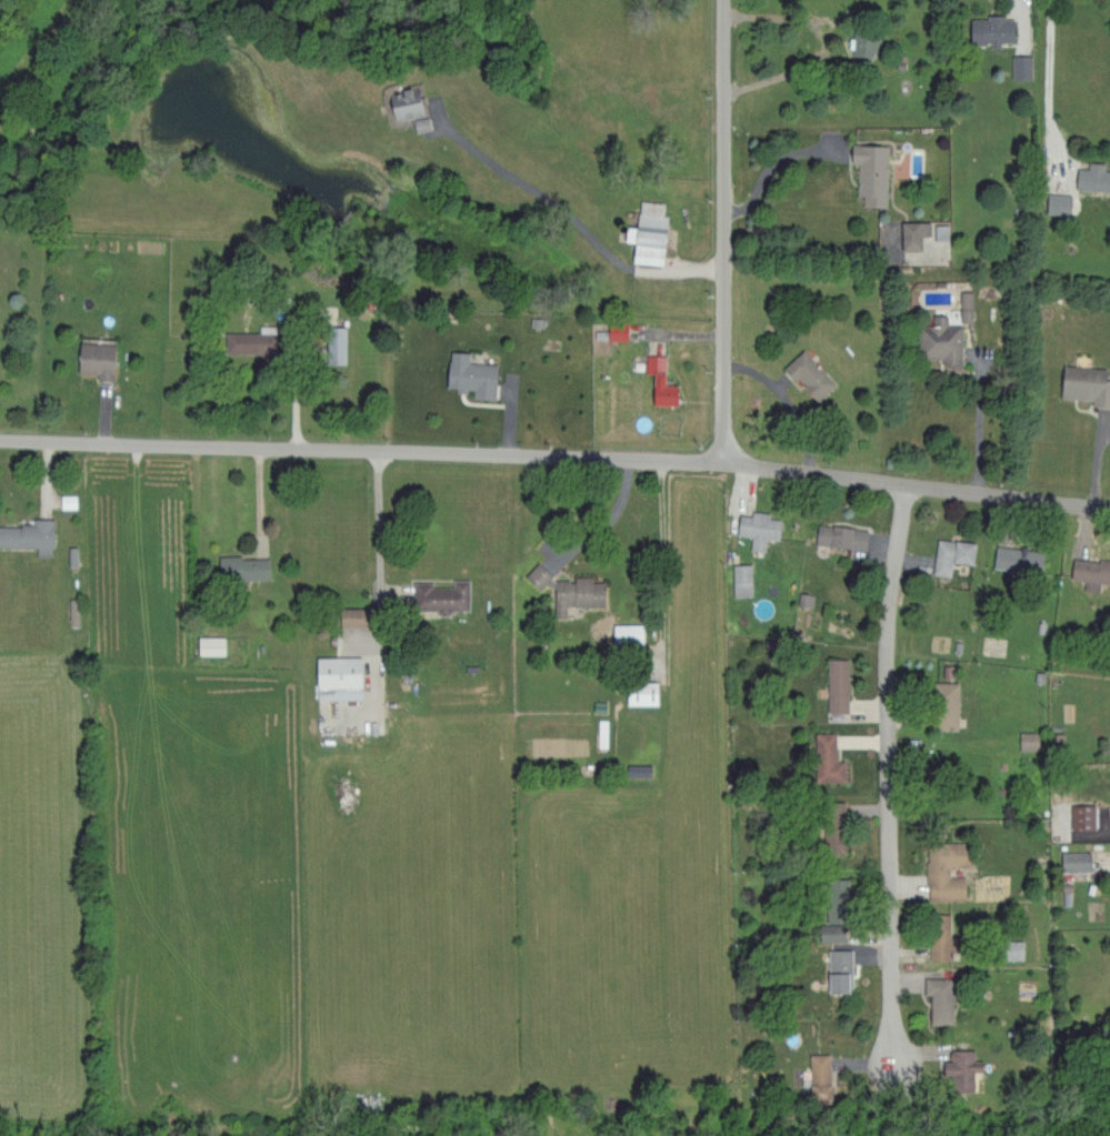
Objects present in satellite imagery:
building: (987, 29)
road: (823, 42)
building: (860, 46)
building: (1019, 66)
road: (1057, 91)
building: (404, 104)
road: (772, 159)
building: (868, 171)
building: (1091, 177)
building: (1056, 202)
road: (572, 219)
road: (721, 231)
building: (644, 232)
building: (910, 233)
building: (613, 330)
building: (242, 342)
building: (938, 342)
building: (331, 343)
building: (92, 359)
building: (804, 373)
building: (468, 374)
building: (657, 381)
building: (1083, 384)
road: (302, 396)
road: (981, 425)
road: (360, 450)
road: (1098, 464)
road: (914, 486)
building: (63, 500)
road: (263, 520)
road: (609, 523)
building: (751, 527)
building: (27, 535)
building: (838, 535)
road: (200, 540)
road: (387, 549)
building: (949, 554)
building: (1014, 559)
building: (239, 566)
road: (663, 569)
building: (1090, 571)
building: (533, 575)
building: (739, 580)
building: (572, 594)
building: (438, 595)
building: (623, 632)
building: (207, 644)
building: (334, 677)
building: (834, 685)
building: (638, 692)
building: (942, 705)
building: (1026, 740)
building: (1109, 743)
building: (824, 758)
building: (1079, 815)
road: (889, 821)
building: (830, 842)
building: (1073, 861)
building: (941, 869)
building: (833, 895)
building: (937, 936)
building: (1008, 949)
building: (837, 969)
building: (937, 998)
building: (957, 1069)
building: (814, 1078)

